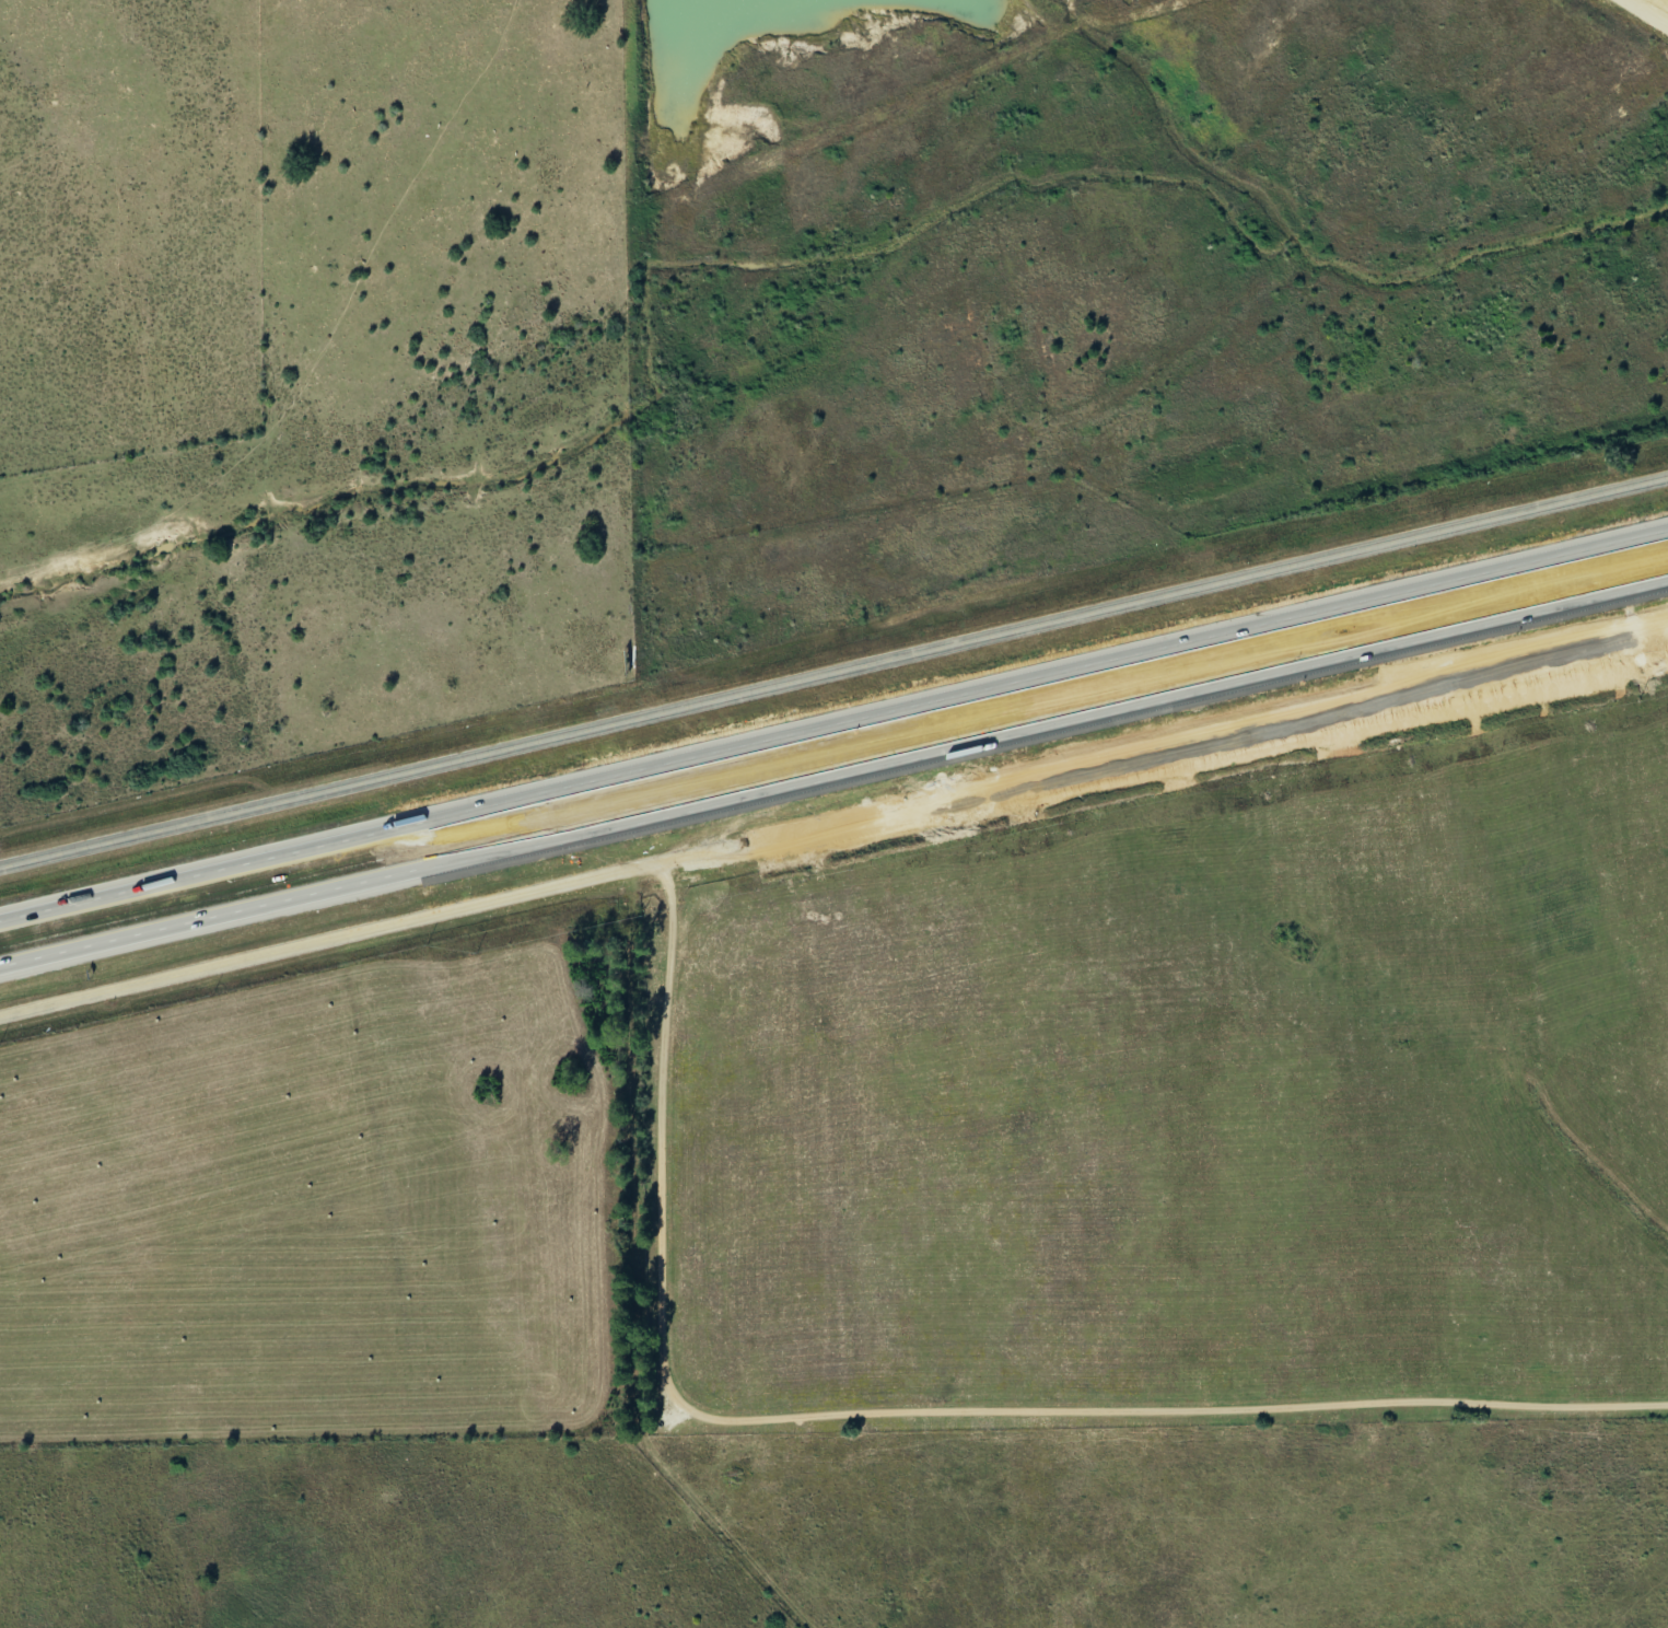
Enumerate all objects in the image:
road: (833, 672)
road: (1255, 699)
road: (833, 723)
road: (1162, 747)
road: (833, 771)
road: (328, 939)
road: (899, 1409)

